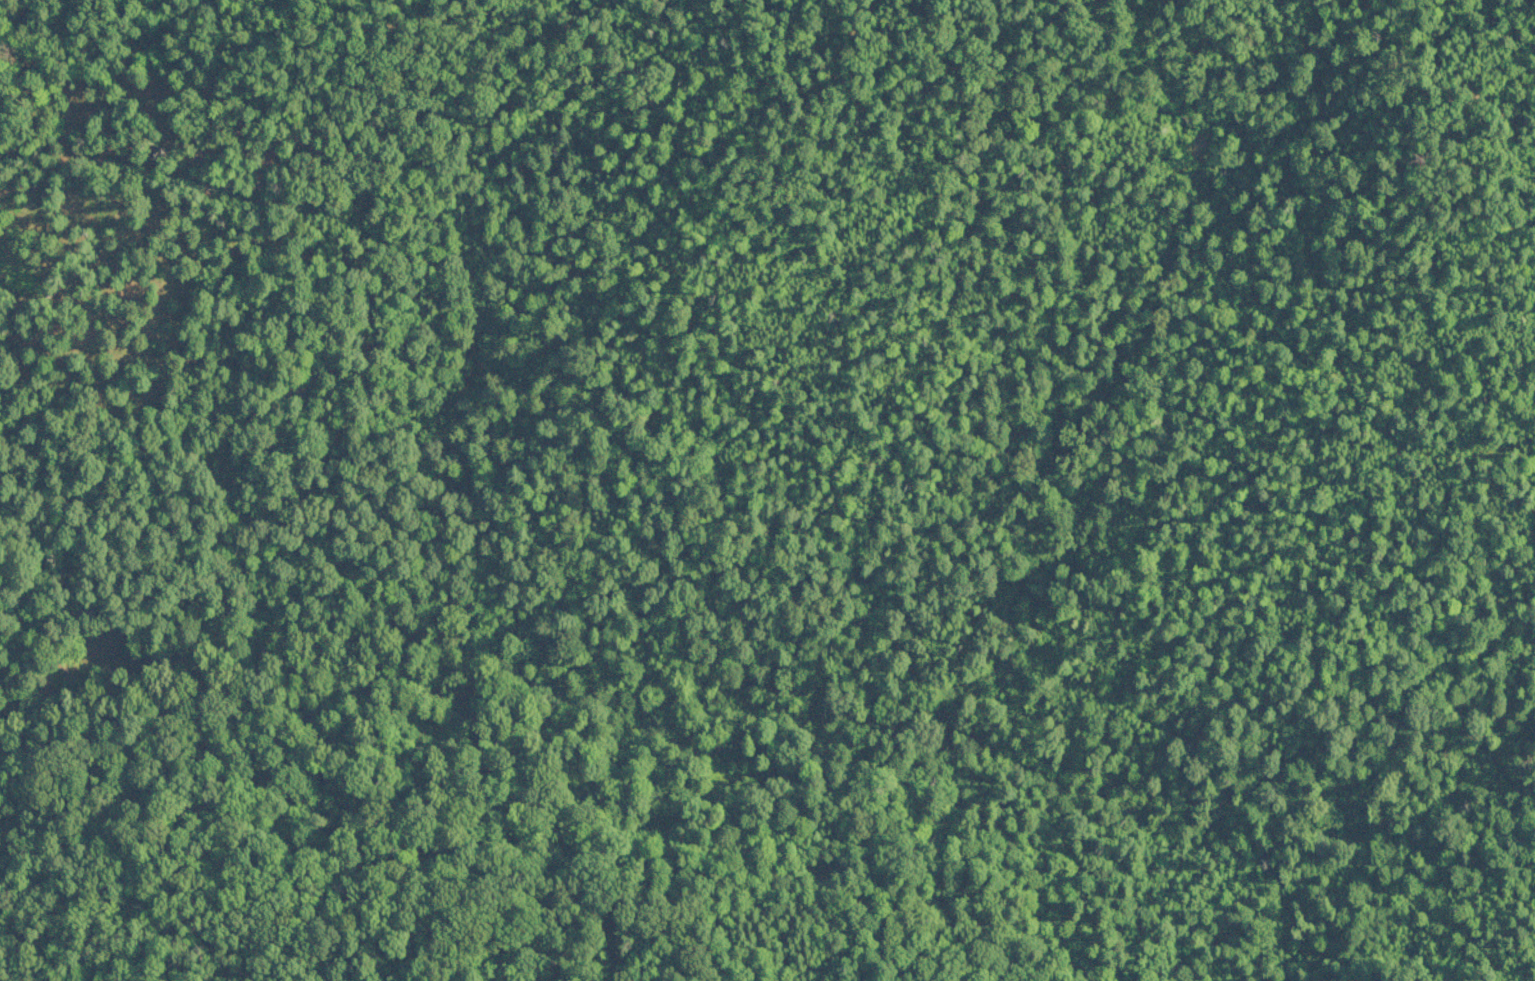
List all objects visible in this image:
road: (24, 692)

